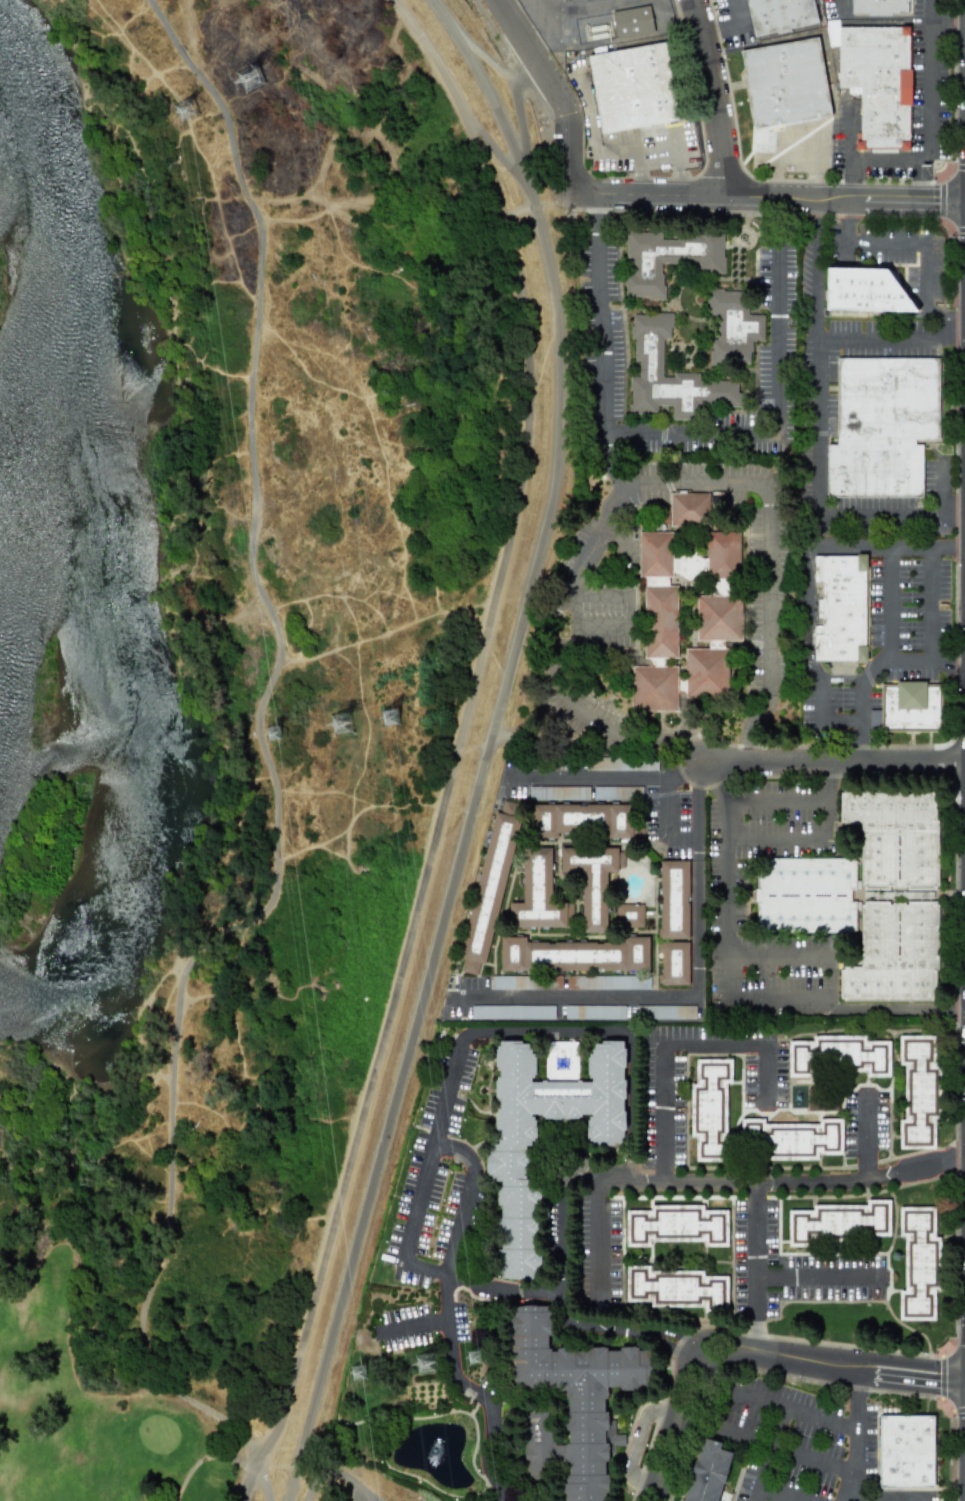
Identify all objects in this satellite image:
road: (608, 3)
road: (672, 3)
road: (839, 6)
building: (878, 7)
road: (443, 14)
building: (778, 15)
building: (632, 21)
road: (726, 21)
road: (946, 23)
road: (476, 69)
building: (249, 77)
power tower: (245, 78)
building: (875, 80)
building: (782, 84)
building: (633, 87)
road: (552, 91)
road: (715, 96)
building: (184, 109)
power tower: (180, 111)
road: (928, 115)
road: (521, 119)
road: (847, 134)
road: (853, 179)
road: (921, 180)
road: (767, 195)
road: (593, 214)
road: (775, 217)
road: (846, 220)
road: (926, 250)
building: (667, 259)
building: (864, 290)
river: (47, 313)
building: (732, 327)
road: (957, 328)
road: (778, 336)
road: (885, 341)
road: (817, 358)
road: (604, 362)
building: (650, 367)
building: (882, 426)
road: (694, 432)
road: (694, 482)
road: (944, 488)
building: (689, 509)
road: (955, 516)
road: (882, 517)
road: (835, 546)
road: (597, 593)
road: (888, 605)
road: (930, 606)
building: (841, 608)
building: (686, 619)
road: (591, 627)
road: (952, 664)
road: (805, 665)
road: (860, 700)
building: (907, 708)
building: (389, 717)
power tower: (393, 717)
power tower: (346, 724)
road: (464, 728)
road: (753, 728)
building: (272, 732)
power tower: (277, 735)
road: (620, 739)
road: (861, 743)
road: (266, 759)
building: (622, 763)
road: (833, 764)
road: (684, 772)
road: (584, 777)
road: (663, 778)
road: (714, 782)
building: (558, 792)
building: (612, 792)
road: (777, 799)
road: (828, 800)
road: (668, 807)
road: (470, 811)
road: (684, 837)
road: (778, 839)
building: (592, 880)
road: (698, 882)
building: (489, 887)
building: (538, 894)
building: (805, 895)
road: (728, 897)
building: (674, 899)
building: (629, 915)
building: (572, 954)
road: (777, 955)
building: (674, 963)
road: (834, 973)
building: (527, 982)
building: (607, 982)
road: (780, 998)
road: (576, 999)
road: (893, 1007)
building: (512, 1011)
building: (594, 1012)
building: (665, 1012)
road: (544, 1033)
road: (712, 1045)
building: (840, 1055)
building: (561, 1057)
road: (764, 1072)
building: (918, 1092)
building: (558, 1095)
building: (710, 1106)
road: (662, 1112)
building: (879, 1125)
road: (865, 1135)
building: (794, 1137)
road: (432, 1147)
road: (915, 1167)
building: (513, 1168)
road: (630, 1179)
road: (764, 1180)
road: (469, 1199)
building: (518, 1200)
building: (585, 1221)
building: (840, 1223)
building: (676, 1225)
building: (518, 1232)
road: (599, 1239)
road: (755, 1250)
building: (519, 1262)
building: (918, 1263)
road: (424, 1270)
road: (819, 1278)
building: (675, 1288)
building: (820, 1291)
road: (554, 1296)
road: (448, 1310)
road: (420, 1320)
road: (590, 1325)
road: (755, 1338)
road: (673, 1339)
road: (705, 1351)
power tower: (477, 1359)
building: (424, 1362)
road: (912, 1363)
power tower: (431, 1365)
power tower: (362, 1375)
park: (90, 1387)
road: (909, 1387)
building: (572, 1401)
road: (791, 1407)
road: (489, 1415)
road: (856, 1435)
road: (639, 1442)
road: (784, 1450)
building: (906, 1451)
road: (769, 1453)
building: (708, 1472)
road: (350, 1478)
road: (264, 1480)
road: (248, 1481)
road: (315, 1484)
road: (779, 1494)
road: (886, 1495)
road: (243, 1498)

